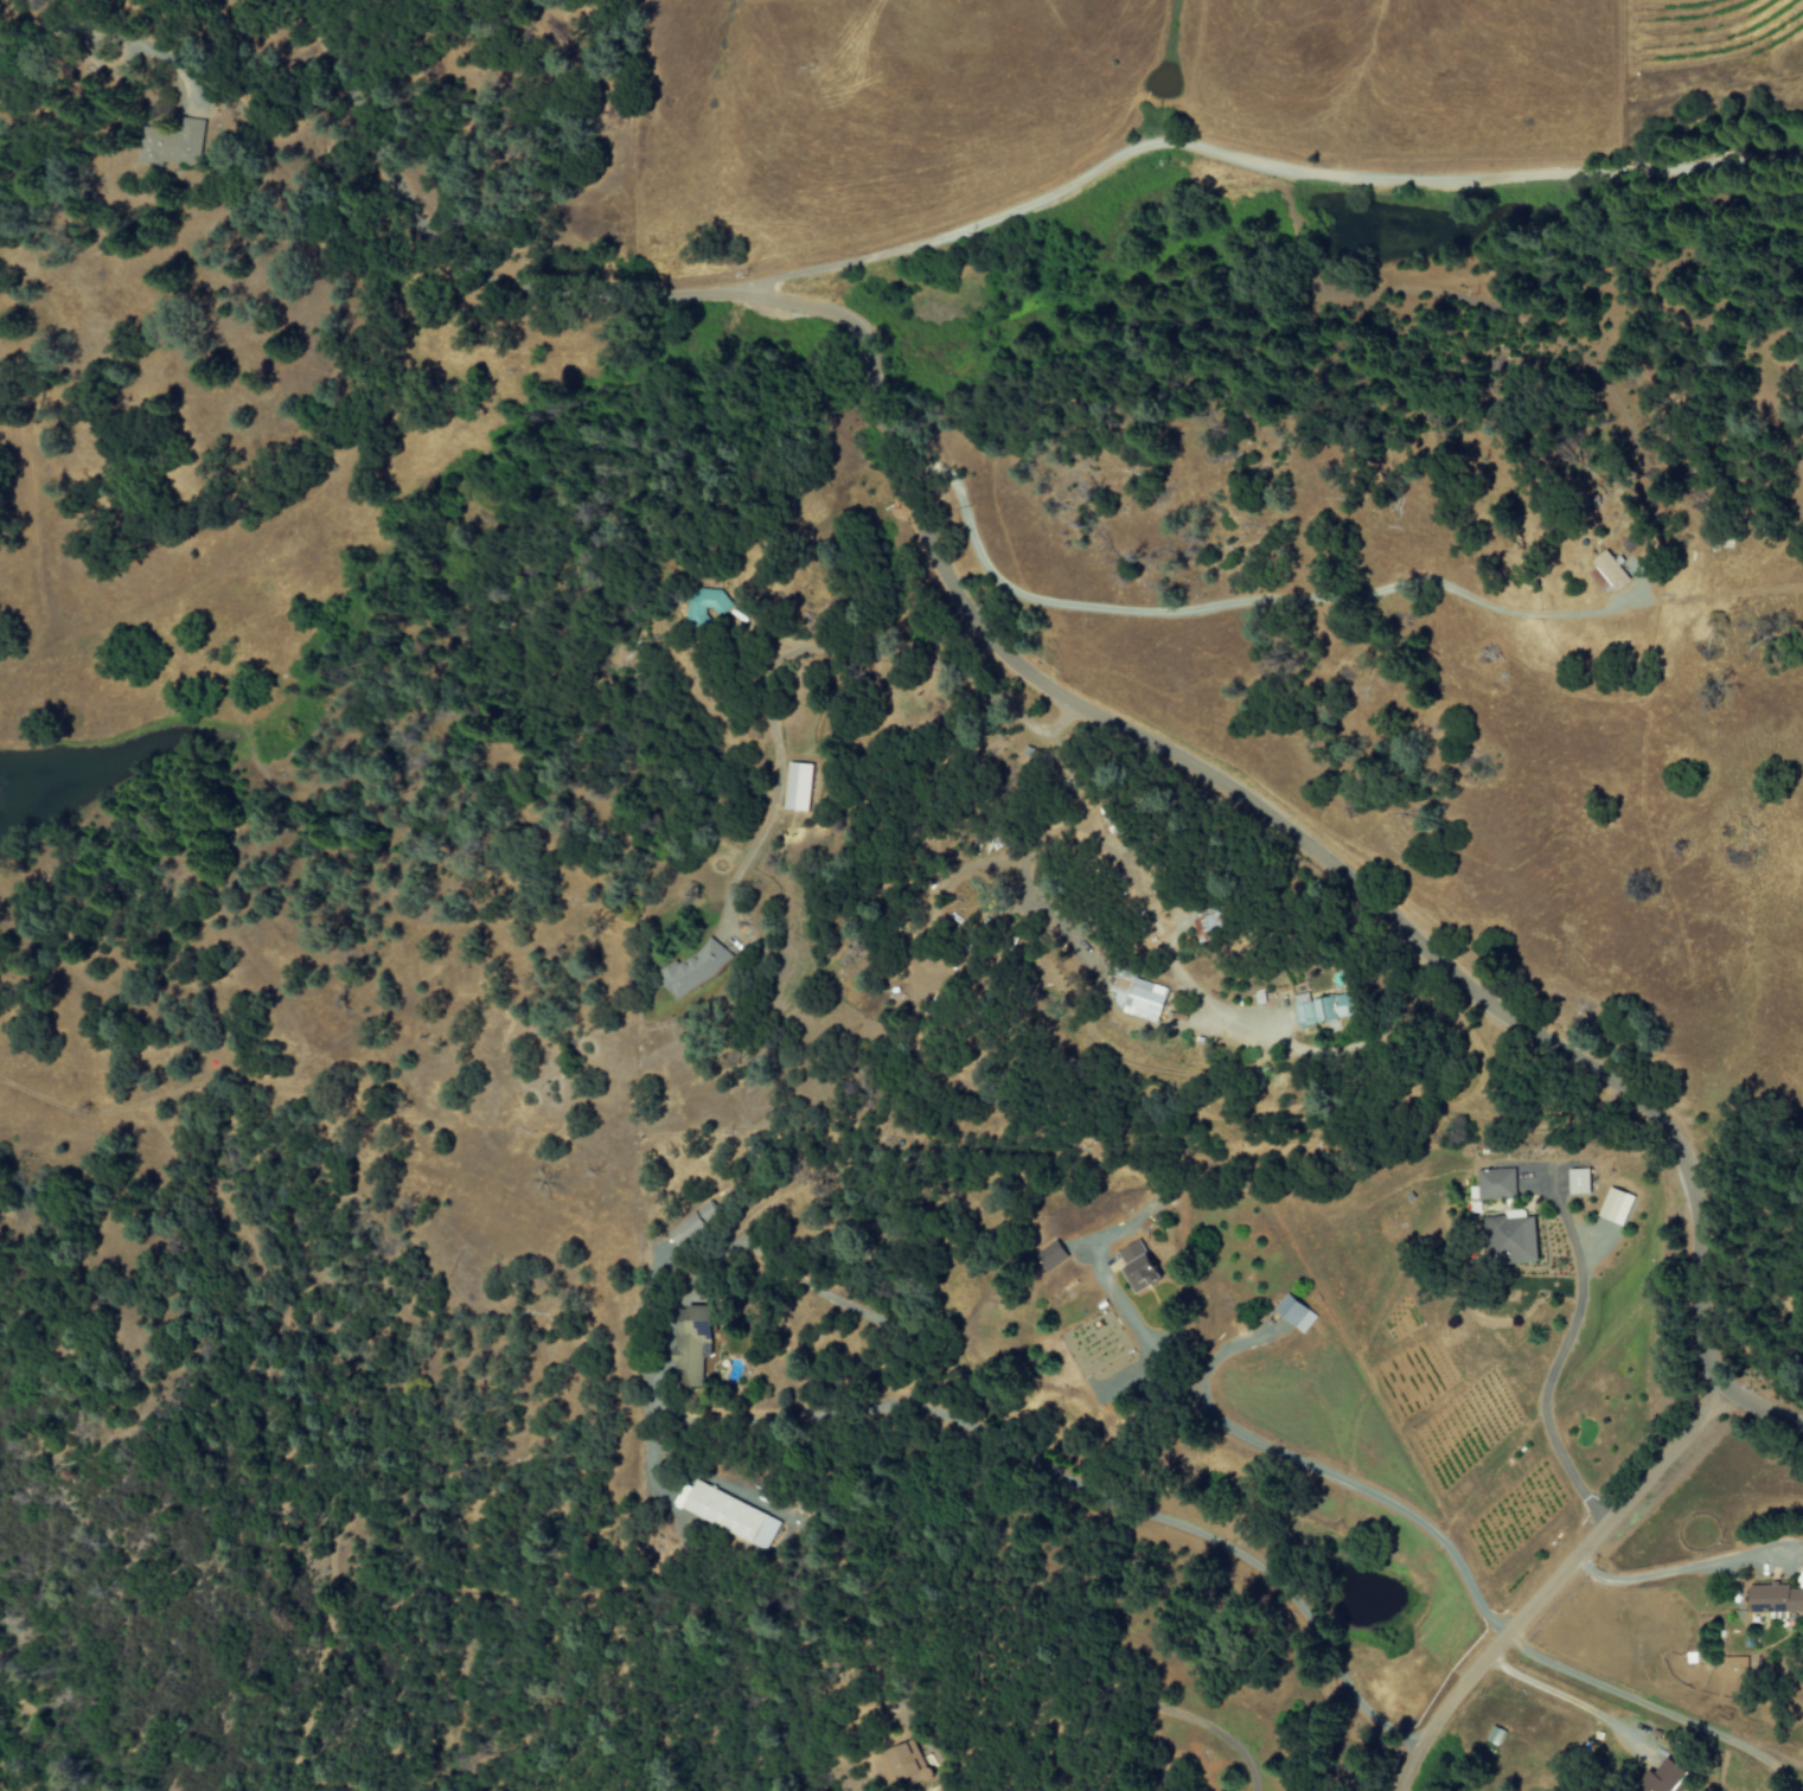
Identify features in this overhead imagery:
crop: (1705, 20)
building: (171, 146)
road: (1265, 161)
building: (1609, 571)
building: (697, 603)
road: (1038, 685)
building: (792, 786)
building: (1207, 926)
building: (688, 971)
building: (1138, 997)
building: (1322, 1009)
road: (186, 1088)
building: (1577, 1181)
building: (1495, 1184)
building: (1613, 1207)
building: (708, 1211)
building: (684, 1229)
building: (1508, 1240)
building: (1047, 1258)
building: (1134, 1267)
building: (1293, 1313)
building: (690, 1344)
road: (1542, 1381)
road: (1285, 1461)
road: (1088, 1495)
building: (727, 1514)
road: (1665, 1573)
road: (1553, 1584)
building: (1773, 1600)
building: (1733, 1667)
road: (1648, 1709)
building: (1494, 1735)
building: (895, 1761)
building: (1661, 1778)

